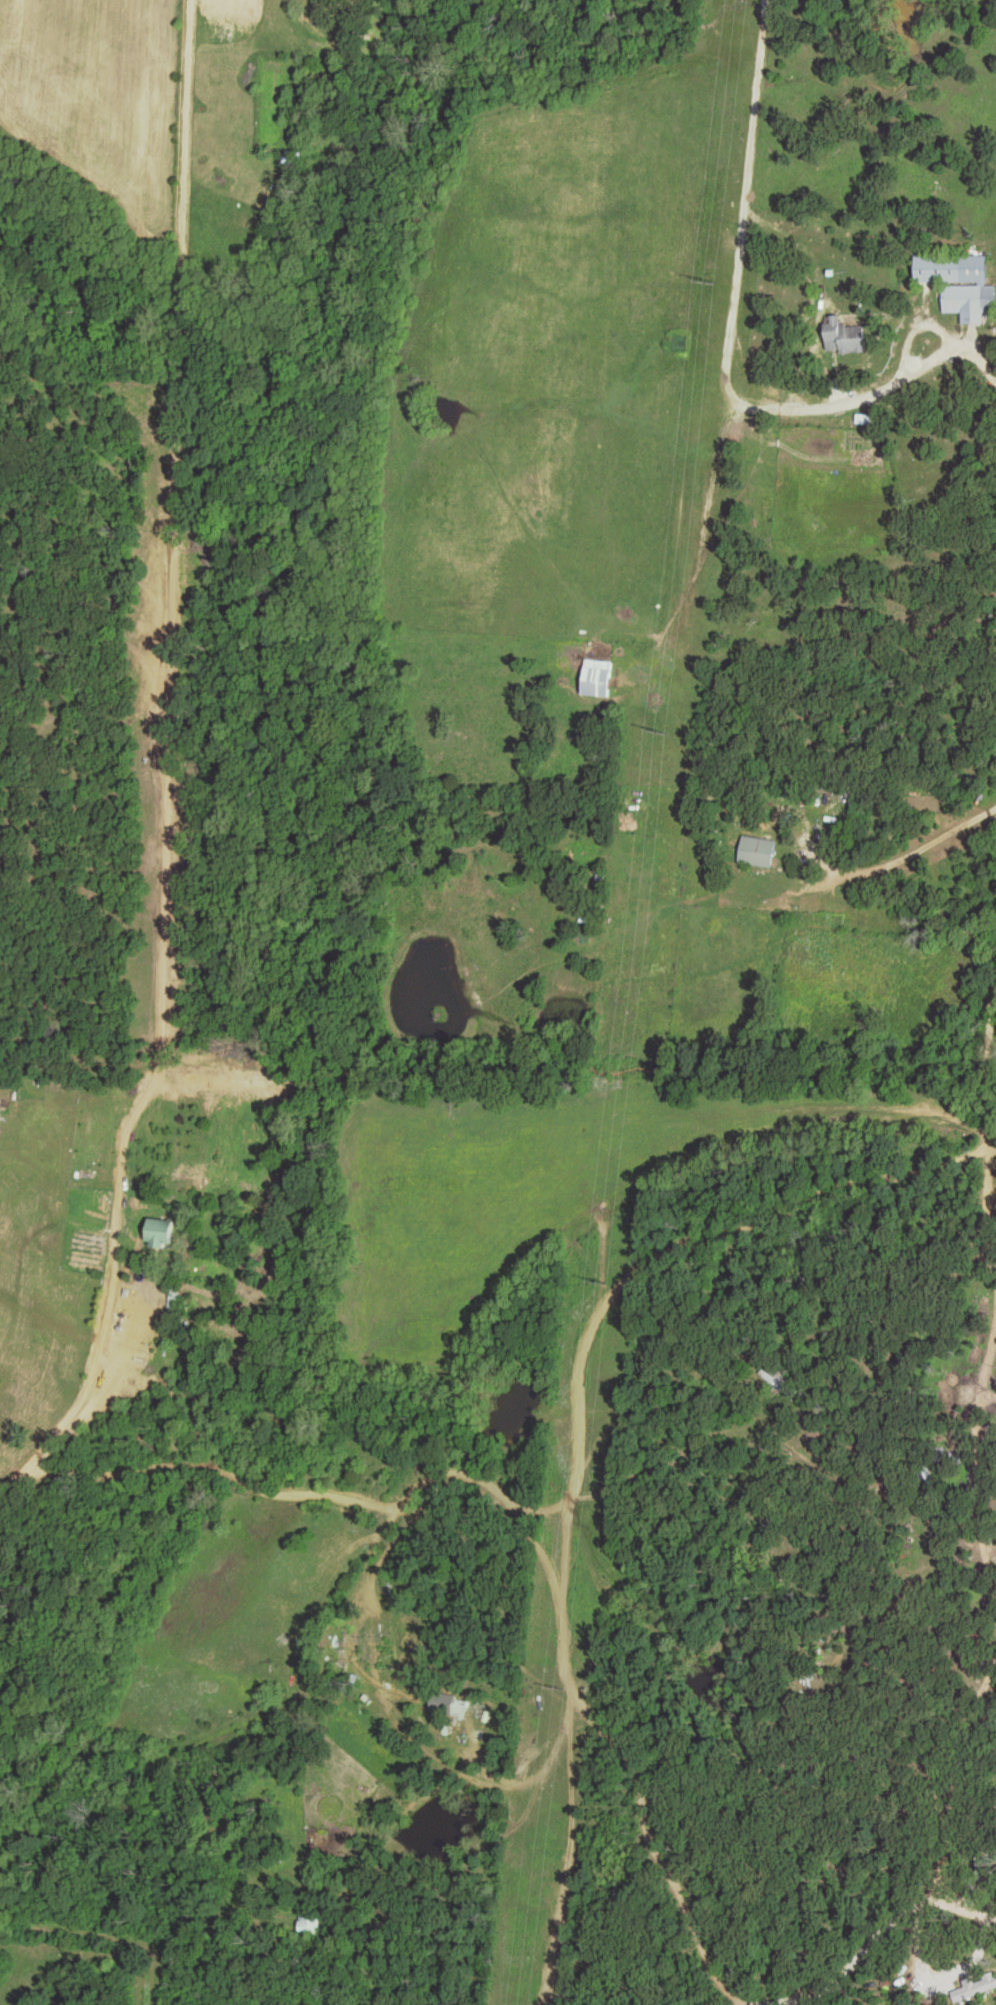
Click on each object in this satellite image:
power tower: (699, 280)
building: (962, 281)
building: (846, 335)
road: (729, 360)
building: (598, 677)
power tower: (651, 729)
building: (758, 851)
road: (988, 1146)
building: (159, 1231)
road: (650, 1262)
power tower: (597, 1281)
building: (175, 1297)
building: (353, 1643)
power tower: (551, 1680)
building: (311, 1925)
road: (701, 1939)
road: (900, 1982)

